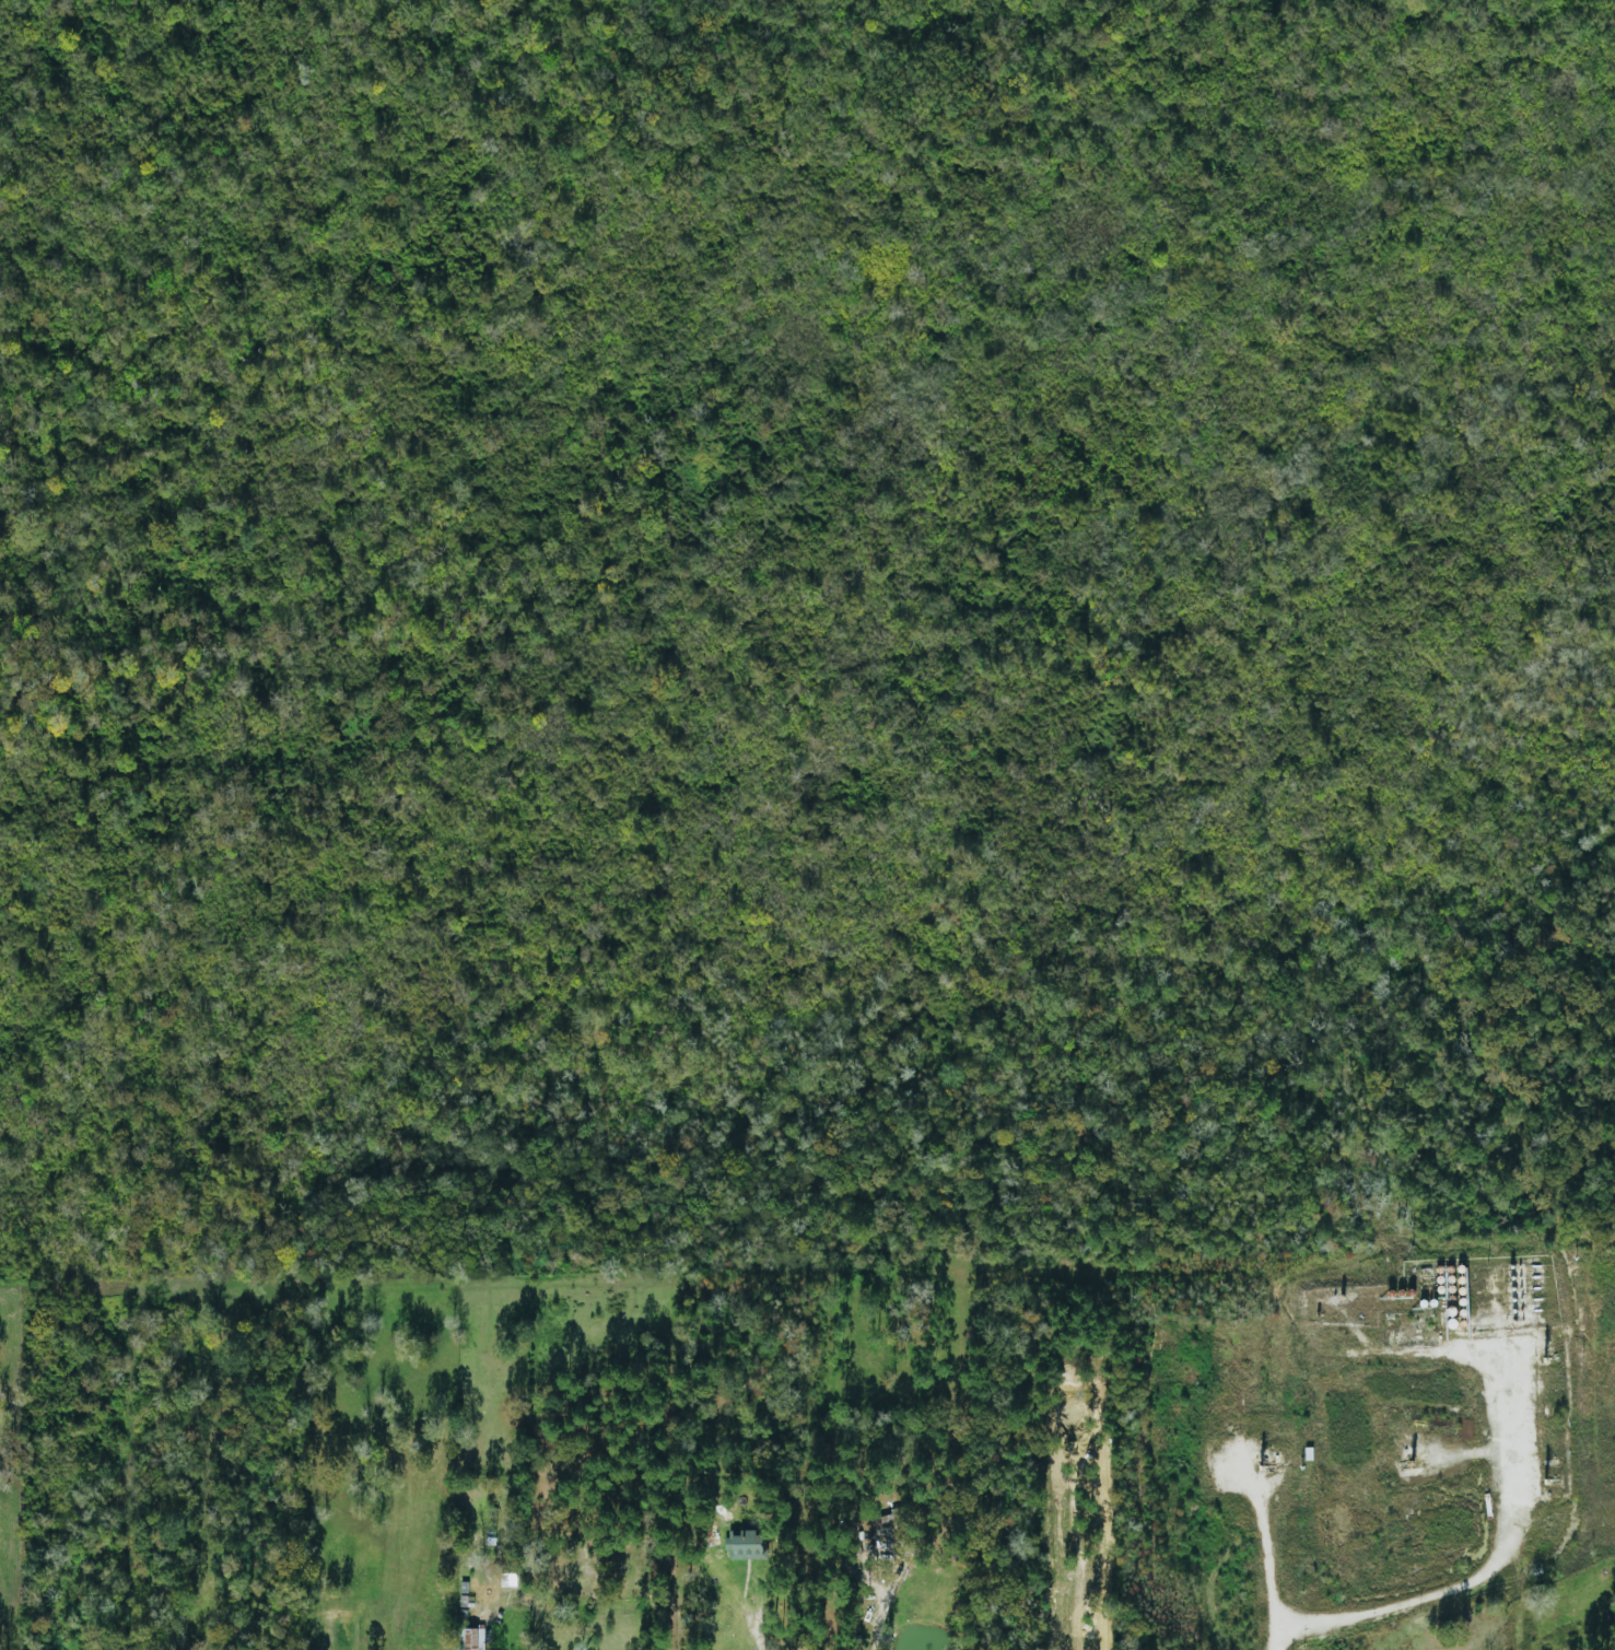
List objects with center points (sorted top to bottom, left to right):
building: (747, 1545)
road: (1475, 1577)
road: (753, 1626)
road: (878, 1630)

